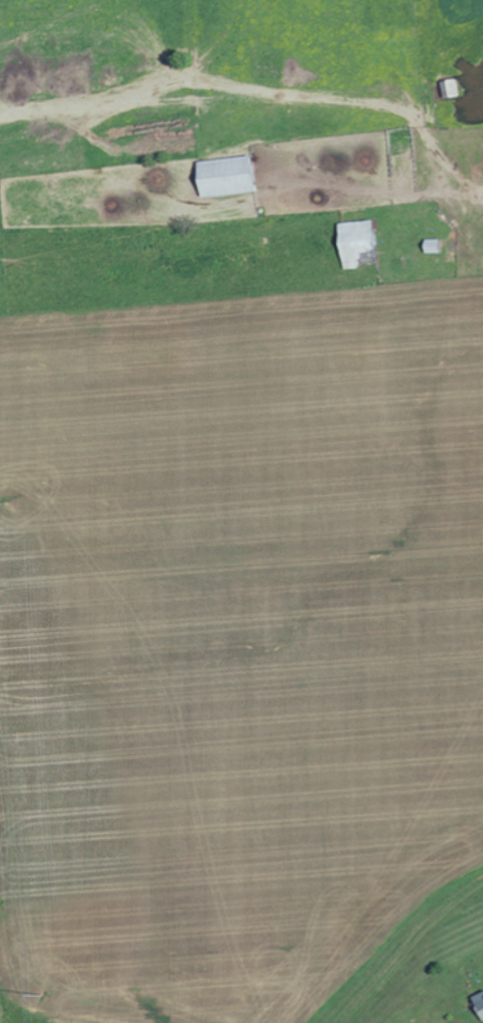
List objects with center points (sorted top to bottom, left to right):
building: (232, 175)
building: (362, 240)
road: (53, 996)
building: (481, 999)

